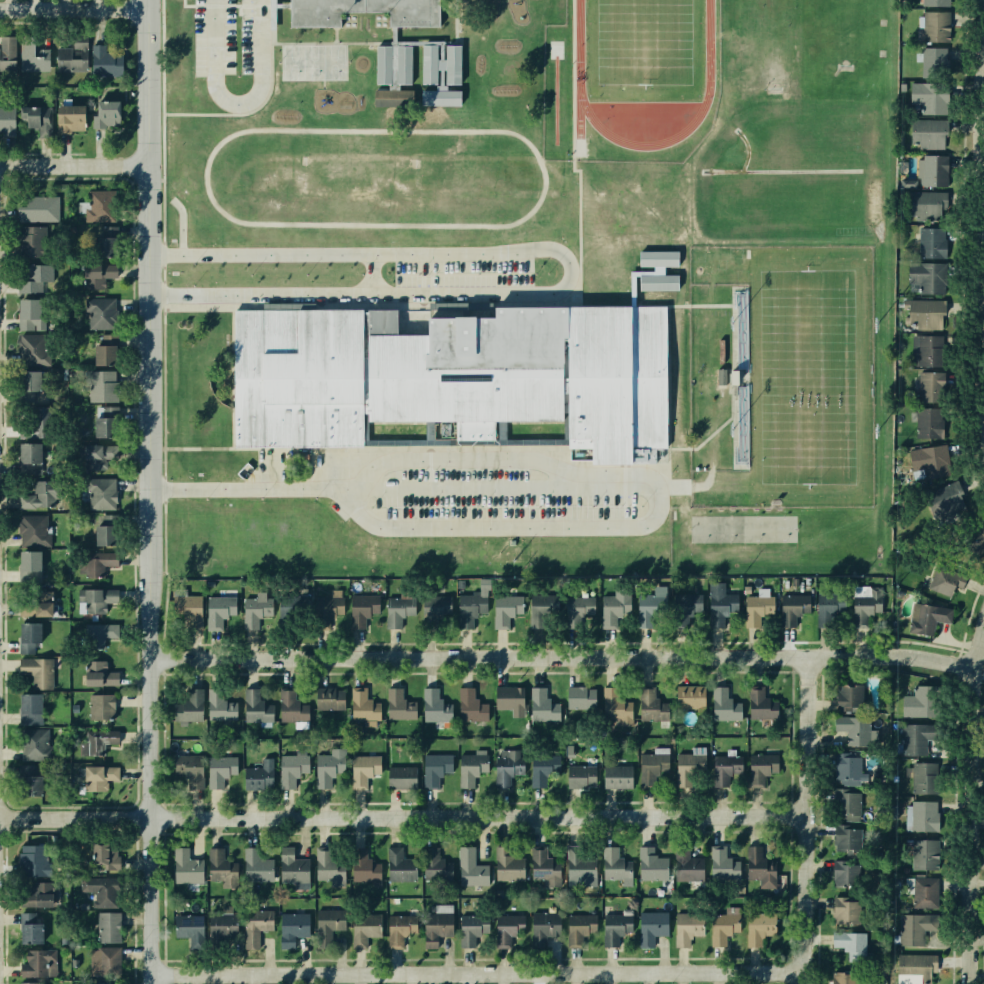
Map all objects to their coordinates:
building: (934, 2)
road: (232, 5)
road: (74, 8)
road: (132, 10)
road: (240, 14)
road: (260, 14)
building: (413, 17)
building: (934, 27)
park: (642, 46)
park: (803, 46)
building: (73, 52)
building: (8, 53)
building: (33, 54)
building: (109, 58)
park: (314, 62)
building: (429, 63)
building: (933, 63)
building: (381, 64)
building: (405, 64)
building: (453, 64)
road: (147, 82)
building: (929, 96)
building: (441, 97)
road: (237, 101)
building: (105, 110)
building: (27, 117)
building: (66, 117)
building: (6, 121)
building: (927, 134)
road: (73, 164)
building: (931, 173)
park: (358, 174)
building: (923, 205)
building: (100, 206)
building: (34, 209)
building: (929, 243)
building: (25, 246)
road: (163, 255)
building: (100, 259)
road: (568, 268)
building: (656, 271)
road: (368, 273)
building: (924, 277)
building: (34, 280)
road: (422, 280)
road: (431, 281)
road: (427, 289)
road: (983, 289)
road: (423, 293)
building: (654, 293)
road: (163, 295)
building: (289, 306)
building: (99, 313)
building: (32, 314)
building: (923, 315)
building: (29, 350)
building: (925, 351)
building: (99, 353)
building: (451, 374)
stadium: (781, 376)
park: (806, 377)
building: (27, 384)
building: (97, 387)
building: (928, 389)
building: (34, 419)
building: (209, 422)
building: (108, 423)
building: (928, 423)
building: (96, 426)
building: (28, 451)
building: (94, 456)
building: (931, 459)
road: (454, 462)
road: (430, 464)
road: (624, 486)
road: (423, 487)
road: (164, 489)
building: (100, 493)
building: (41, 495)
building: (946, 495)
road: (508, 528)
park: (743, 529)
building: (32, 531)
building: (98, 534)
building: (973, 535)
building: (27, 561)
building: (97, 563)
road: (148, 574)
building: (945, 579)
building: (94, 594)
building: (437, 602)
building: (37, 604)
building: (328, 604)
building: (717, 604)
building: (468, 606)
building: (684, 606)
building: (187, 607)
building: (499, 607)
building: (757, 607)
building: (218, 608)
building: (864, 608)
building: (823, 609)
building: (253, 610)
building: (535, 610)
building: (361, 611)
building: (395, 611)
building: (576, 611)
building: (791, 611)
building: (613, 612)
building: (644, 612)
building: (290, 616)
building: (926, 616)
building: (28, 636)
building: (96, 637)
road: (564, 655)
building: (37, 672)
building: (90, 674)
building: (687, 692)
building: (579, 694)
building: (539, 695)
building: (328, 696)
building: (508, 696)
building: (189, 697)
building: (850, 699)
building: (429, 702)
building: (650, 702)
building: (27, 703)
building: (288, 703)
building: (253, 704)
building: (360, 704)
building: (396, 704)
building: (469, 705)
building: (723, 705)
building: (759, 705)
building: (101, 706)
building: (917, 707)
building: (220, 708)
building: (619, 714)
building: (853, 736)
building: (96, 739)
building: (915, 740)
building: (33, 742)
building: (649, 762)
building: (433, 766)
building: (189, 767)
building: (288, 767)
building: (507, 767)
building: (760, 767)
building: (847, 768)
building: (219, 769)
building: (469, 769)
building: (687, 770)
building: (722, 770)
building: (325, 771)
building: (539, 771)
building: (363, 772)
building: (400, 772)
building: (257, 774)
building: (578, 774)
building: (617, 775)
building: (94, 776)
building: (925, 779)
building: (28, 785)
building: (850, 803)
road: (976, 813)
road: (405, 816)
road: (0, 817)
building: (921, 817)
road: (811, 819)
building: (841, 836)
building: (100, 854)
building: (923, 856)
building: (28, 859)
building: (650, 859)
building: (435, 862)
building: (721, 862)
building: (218, 863)
building: (363, 864)
building: (395, 864)
building: (614, 864)
building: (541, 865)
building: (688, 865)
building: (183, 866)
building: (758, 867)
building: (297, 868)
building: (329, 868)
building: (470, 868)
building: (509, 868)
building: (251, 869)
building: (839, 870)
building: (580, 872)
building: (34, 894)
building: (103, 894)
building: (921, 894)
building: (843, 912)
building: (257, 920)
building: (221, 922)
building: (328, 922)
building: (545, 922)
building: (292, 923)
building: (188, 925)
building: (648, 925)
building: (507, 926)
building: (576, 926)
building: (107, 927)
building: (757, 927)
building: (27, 928)
building: (363, 928)
building: (399, 928)
building: (434, 928)
building: (471, 928)
building: (613, 928)
building: (686, 928)
building: (911, 928)
building: (721, 929)
building: (850, 939)
building: (104, 961)
building: (39, 962)
building: (912, 969)
road: (482, 971)
building: (844, 976)
building: (31, 982)
building: (105, 983)

